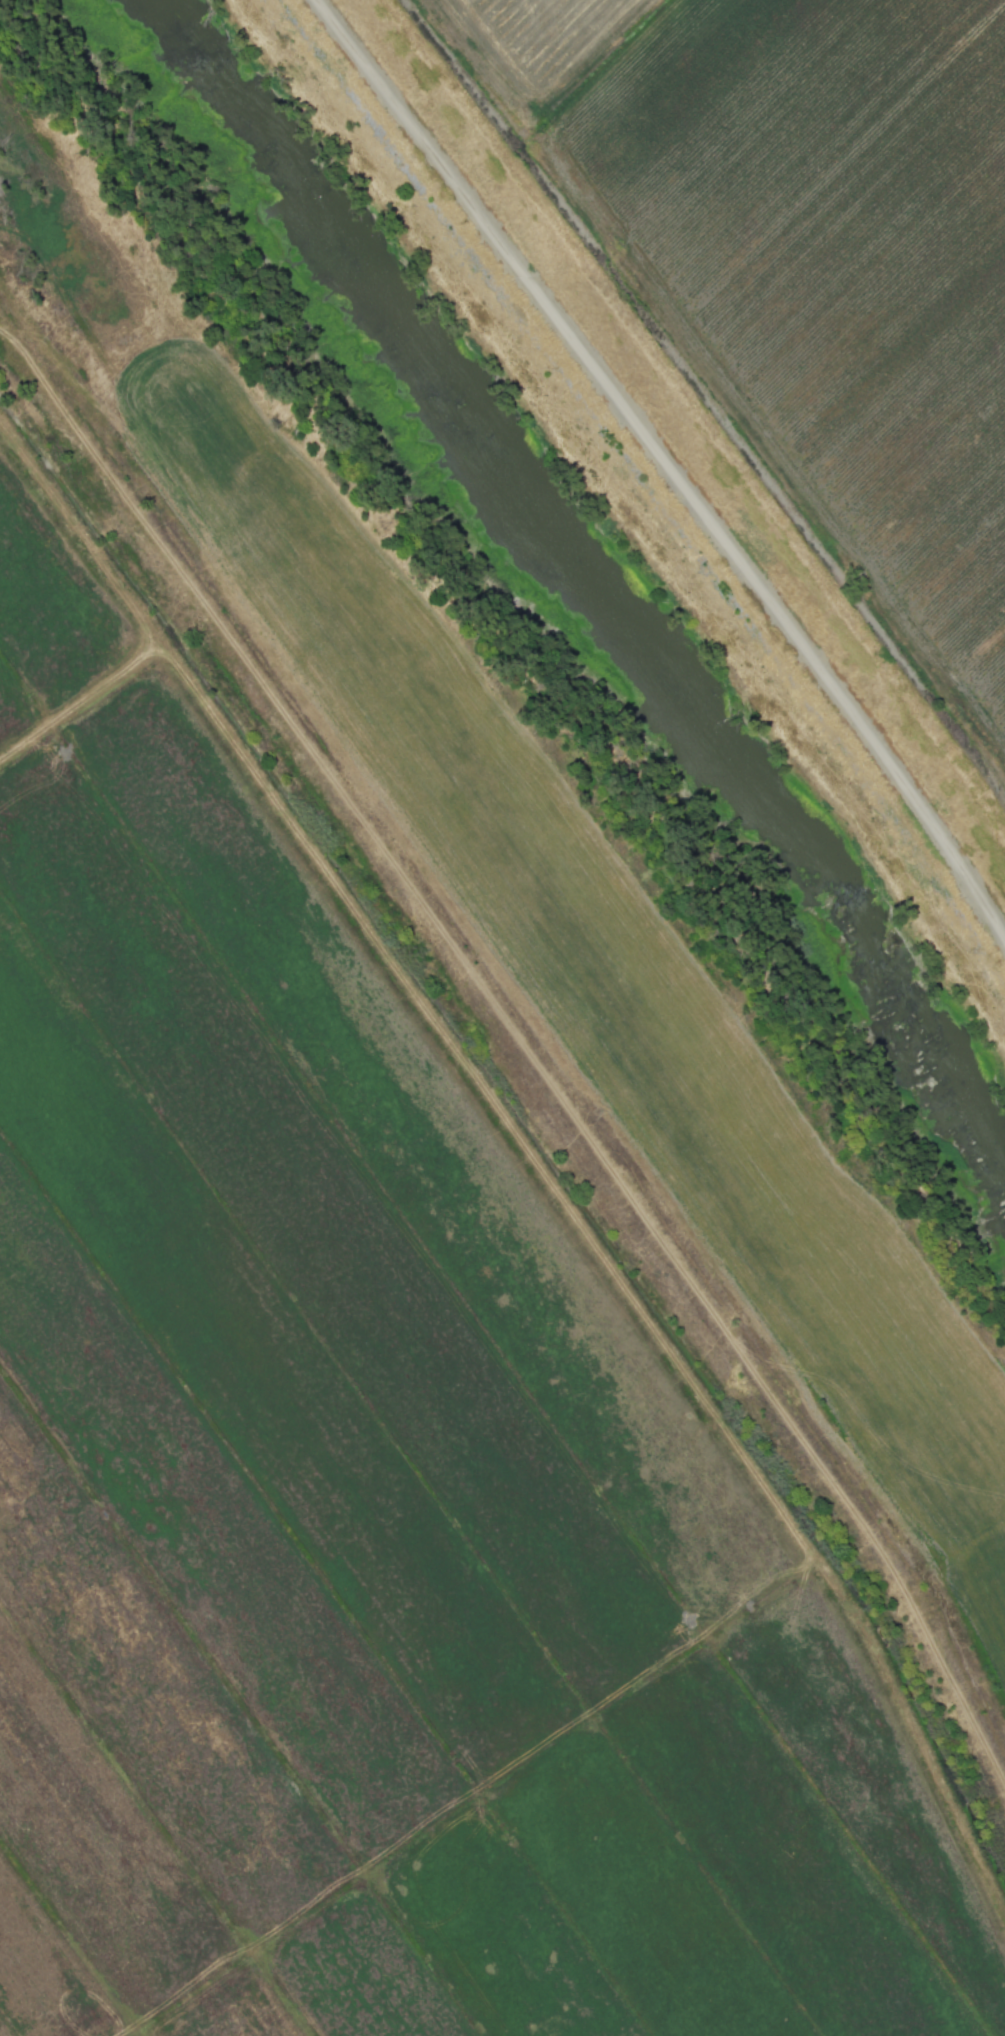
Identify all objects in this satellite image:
crop: (796, 273)
crop: (435, 1237)

